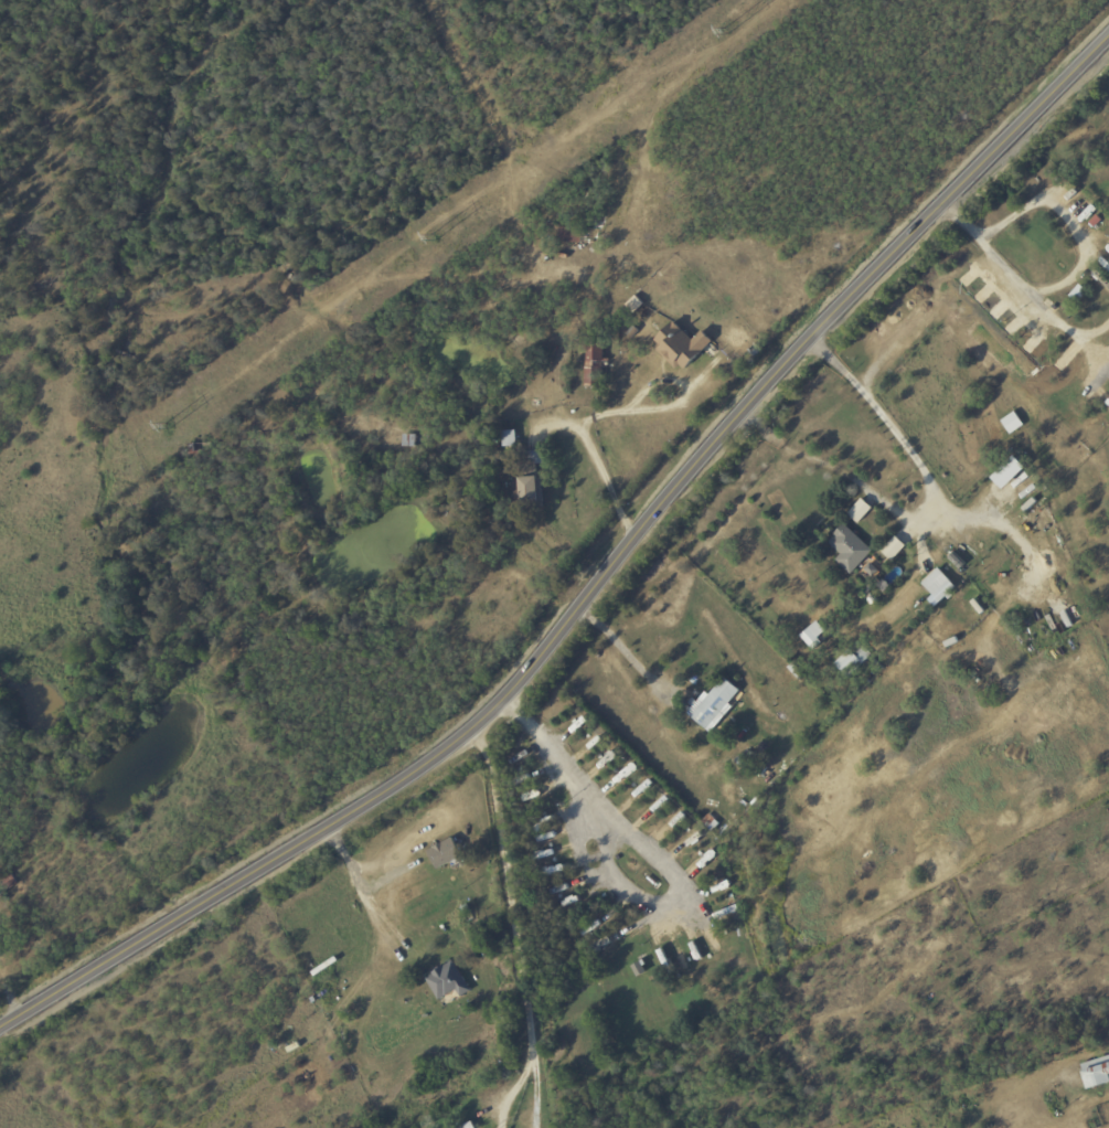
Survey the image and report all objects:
power tower: (726, 31)
road: (1069, 221)
power tower: (434, 237)
road: (1024, 285)
building: (680, 345)
building: (594, 362)
road: (658, 381)
building: (1012, 422)
power tower: (168, 425)
road: (597, 462)
road: (840, 467)
building: (1007, 472)
road: (926, 493)
building: (859, 510)
building: (850, 546)
building: (893, 547)
road: (597, 584)
building: (937, 586)
building: (812, 635)
road: (616, 649)
building: (852, 659)
building: (712, 703)
building: (678, 820)
building: (710, 821)
building: (444, 853)
road: (642, 853)
road: (516, 892)
road: (362, 896)
building: (638, 969)
building: (447, 981)
building: (1096, 1074)
road: (514, 1090)
road: (542, 1097)
building: (467, 1126)

